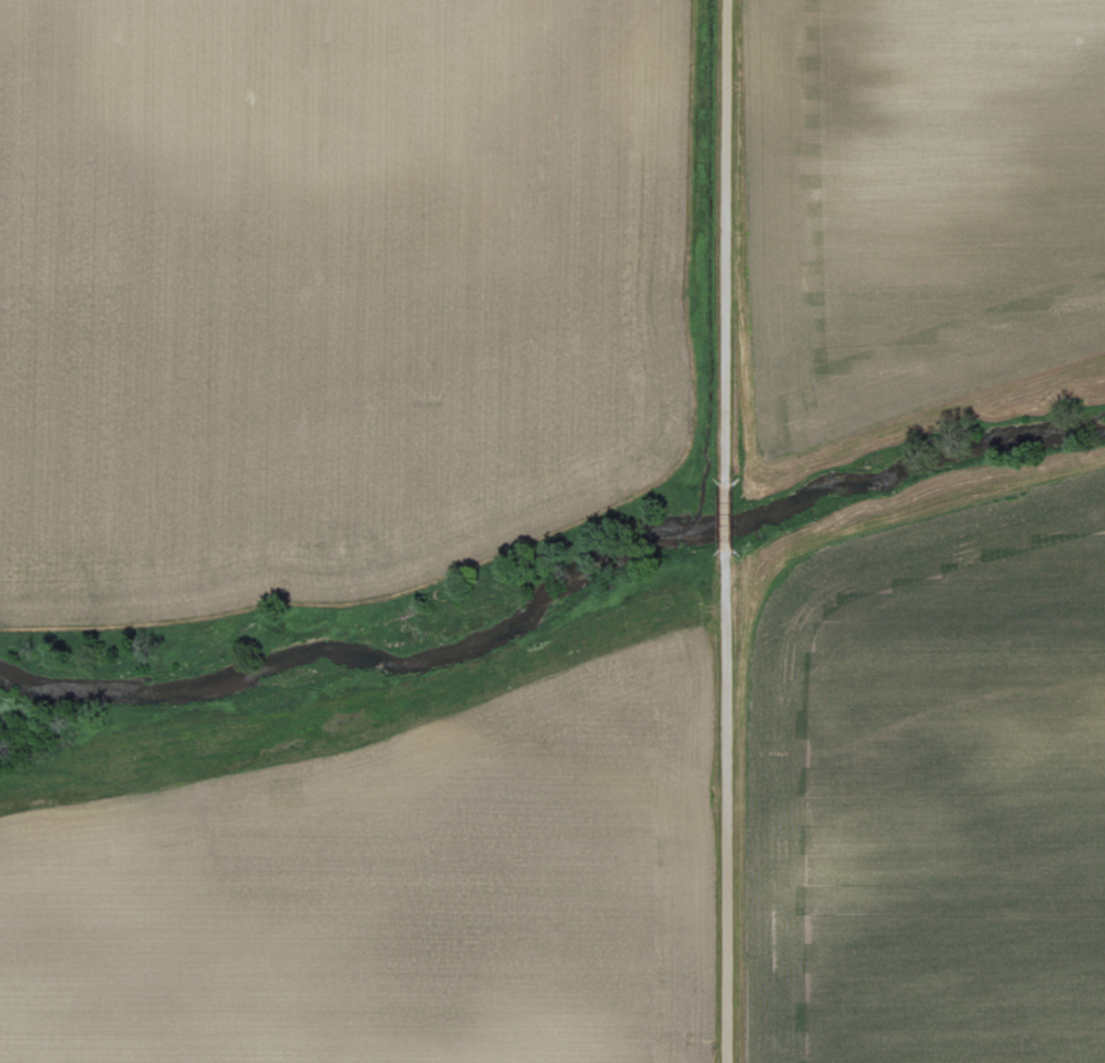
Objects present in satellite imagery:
road: (728, 241)
road: (726, 519)
road: (725, 809)

